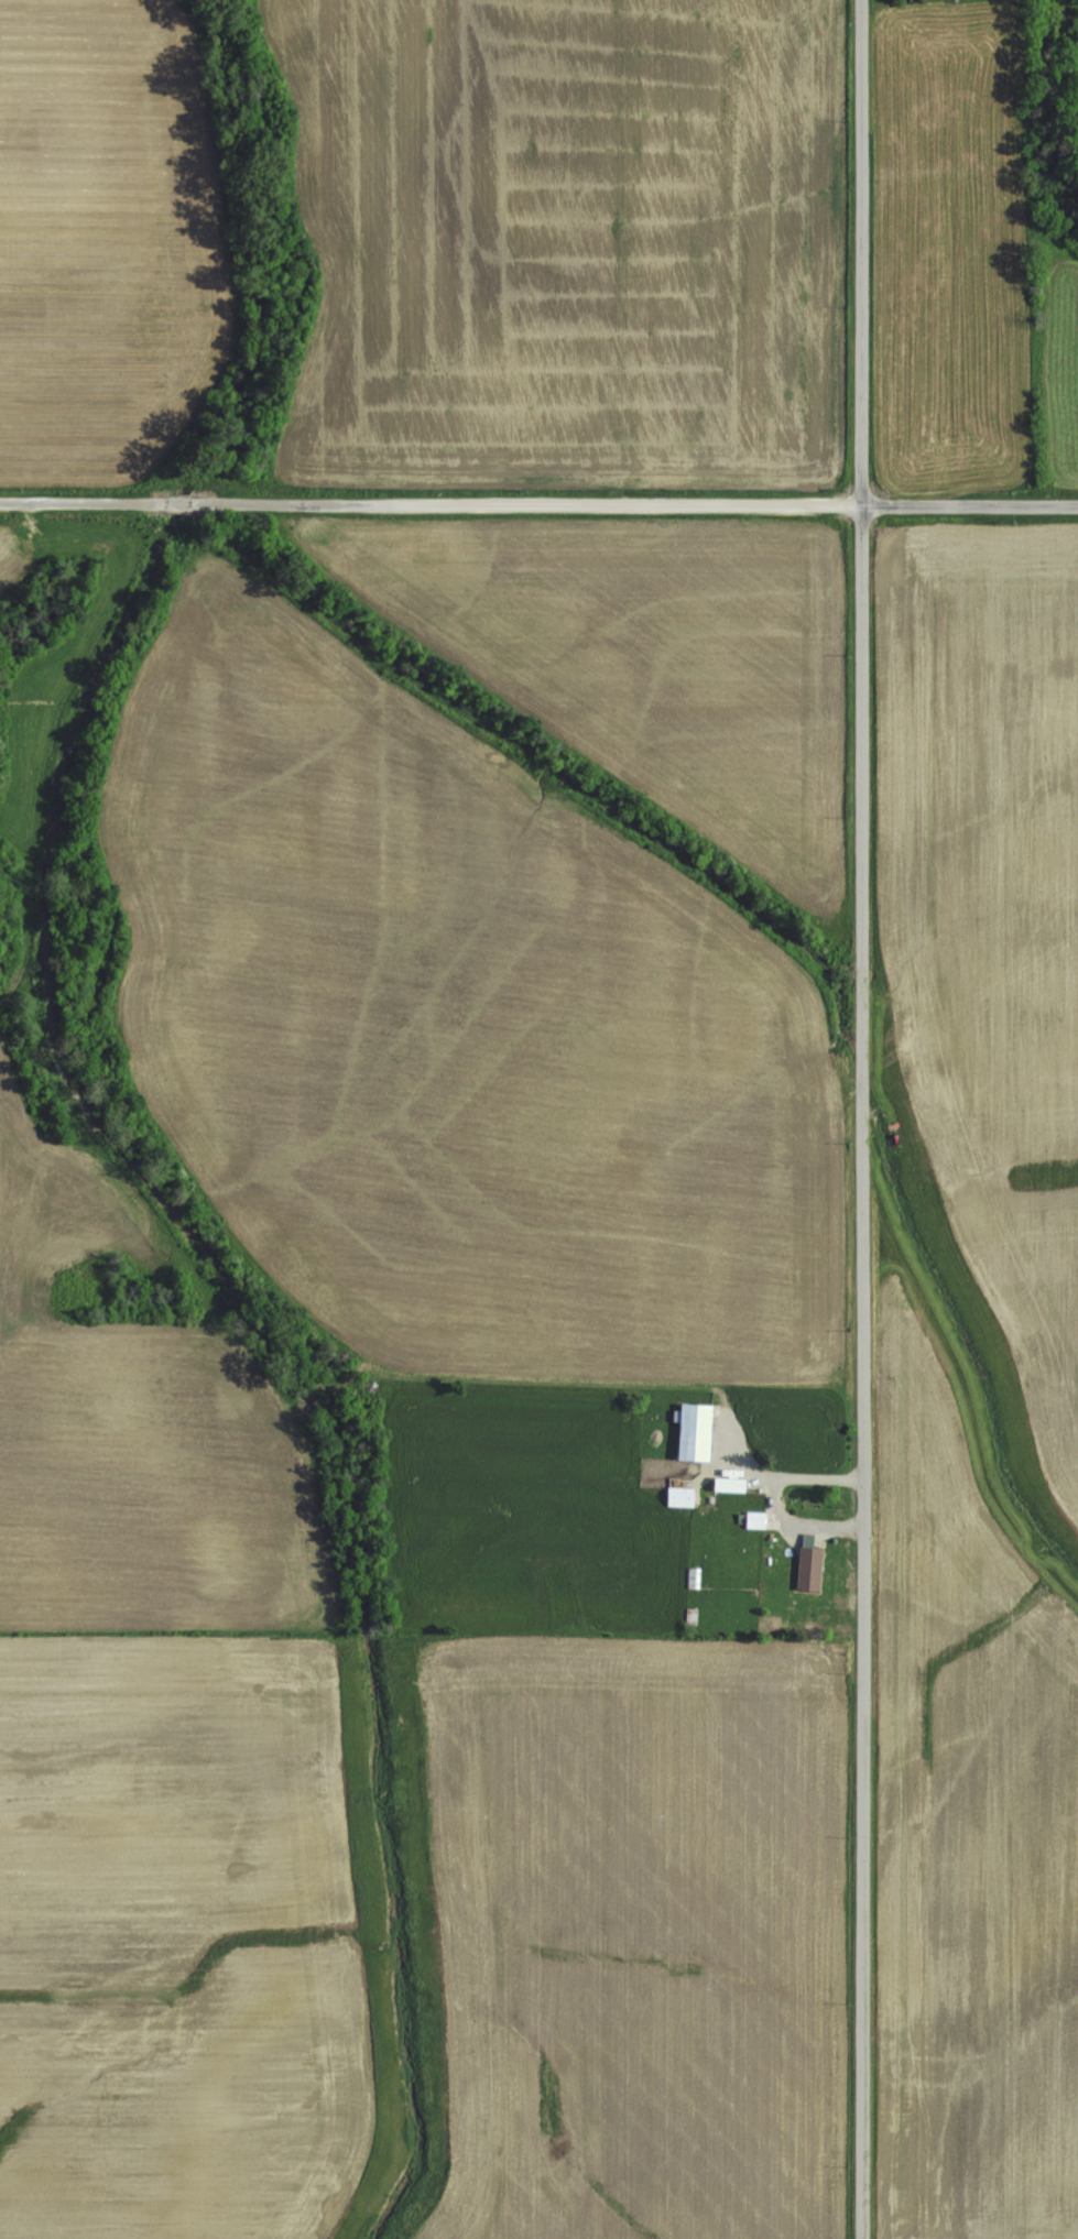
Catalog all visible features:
road: (538, 491)
road: (860, 1118)
building: (696, 1428)
building: (730, 1482)
building: (682, 1494)
road: (770, 1494)
building: (753, 1517)
building: (810, 1565)

